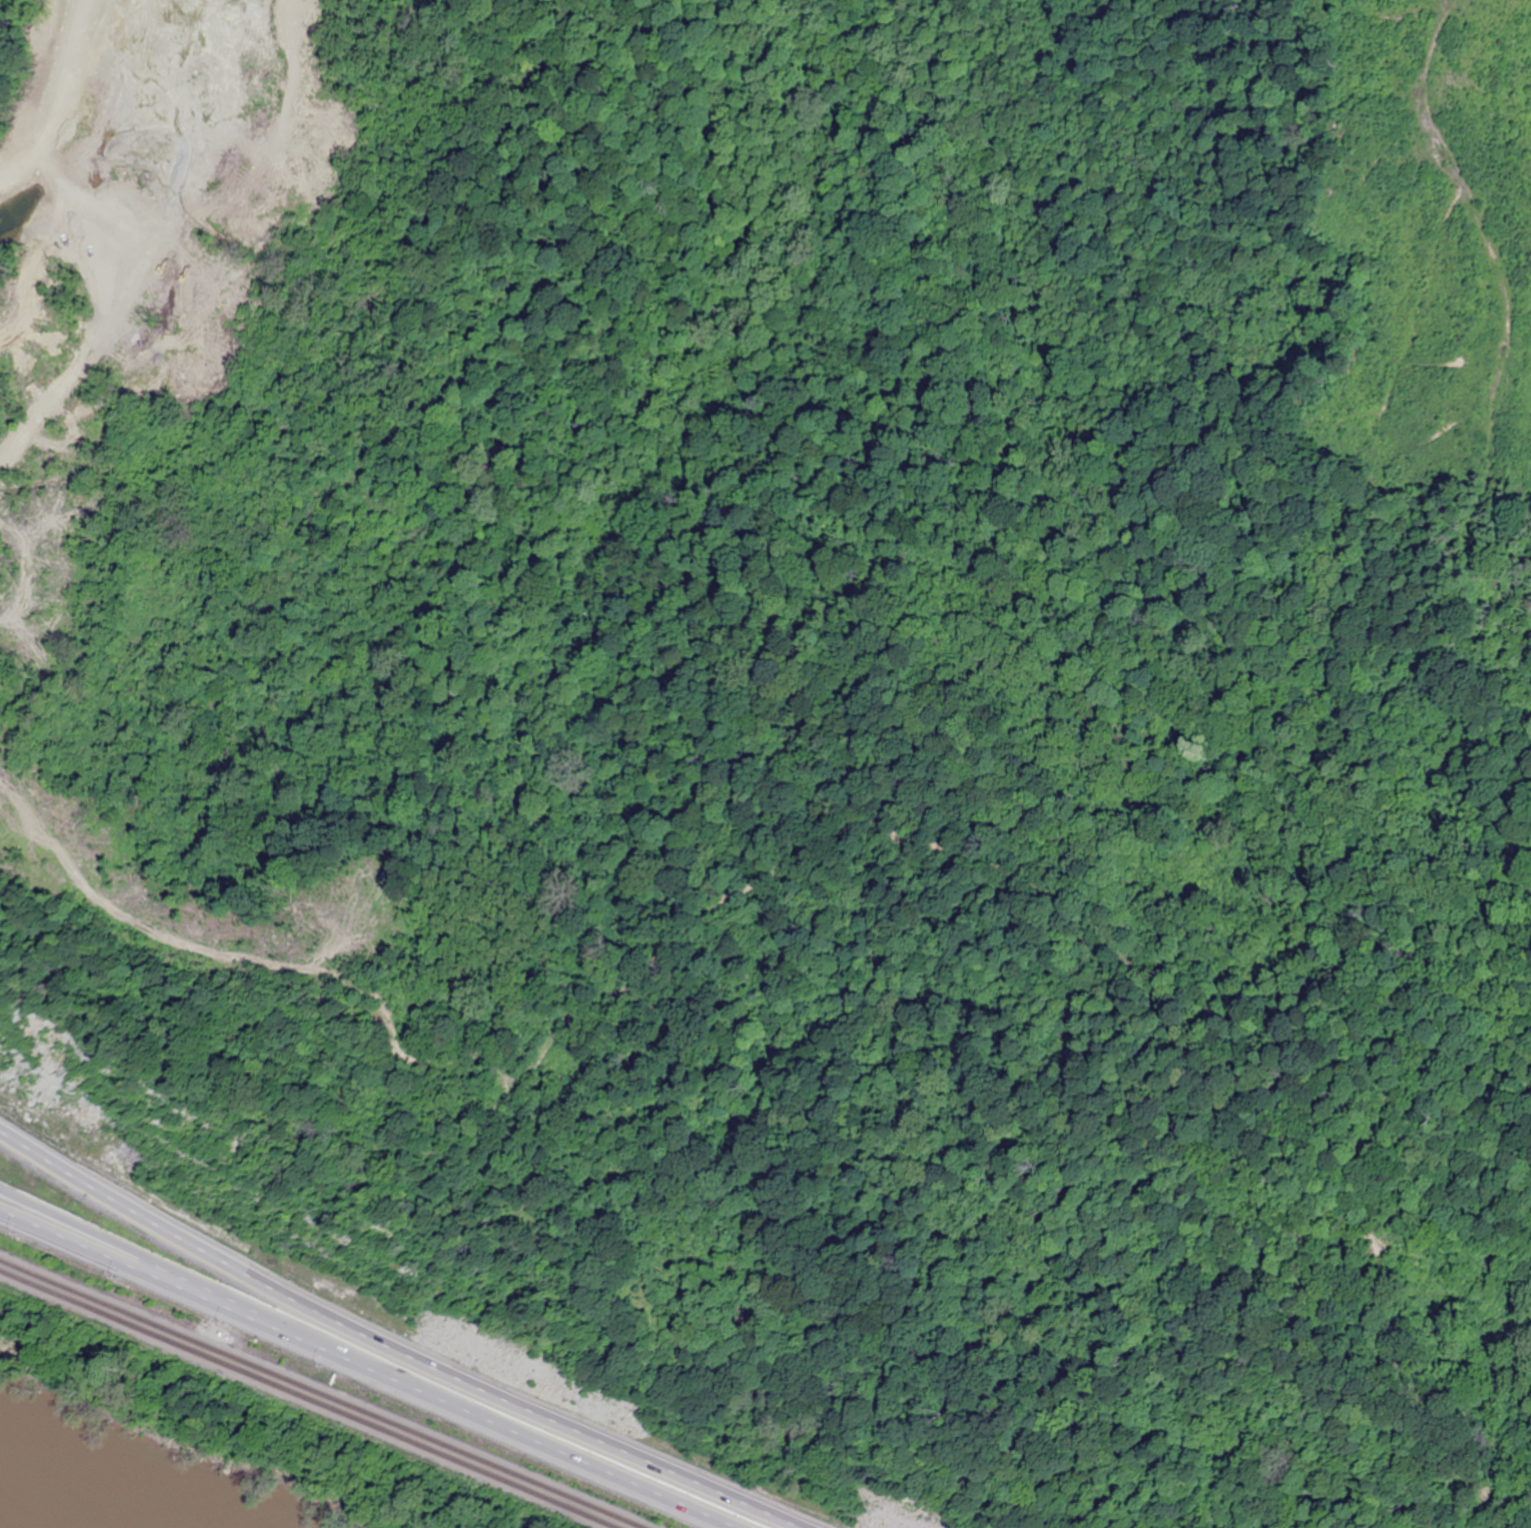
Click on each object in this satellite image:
road: (108, 1241)
road: (105, 1256)
road: (397, 1346)
railway: (330, 1389)
railway: (311, 1396)
road: (470, 1414)

